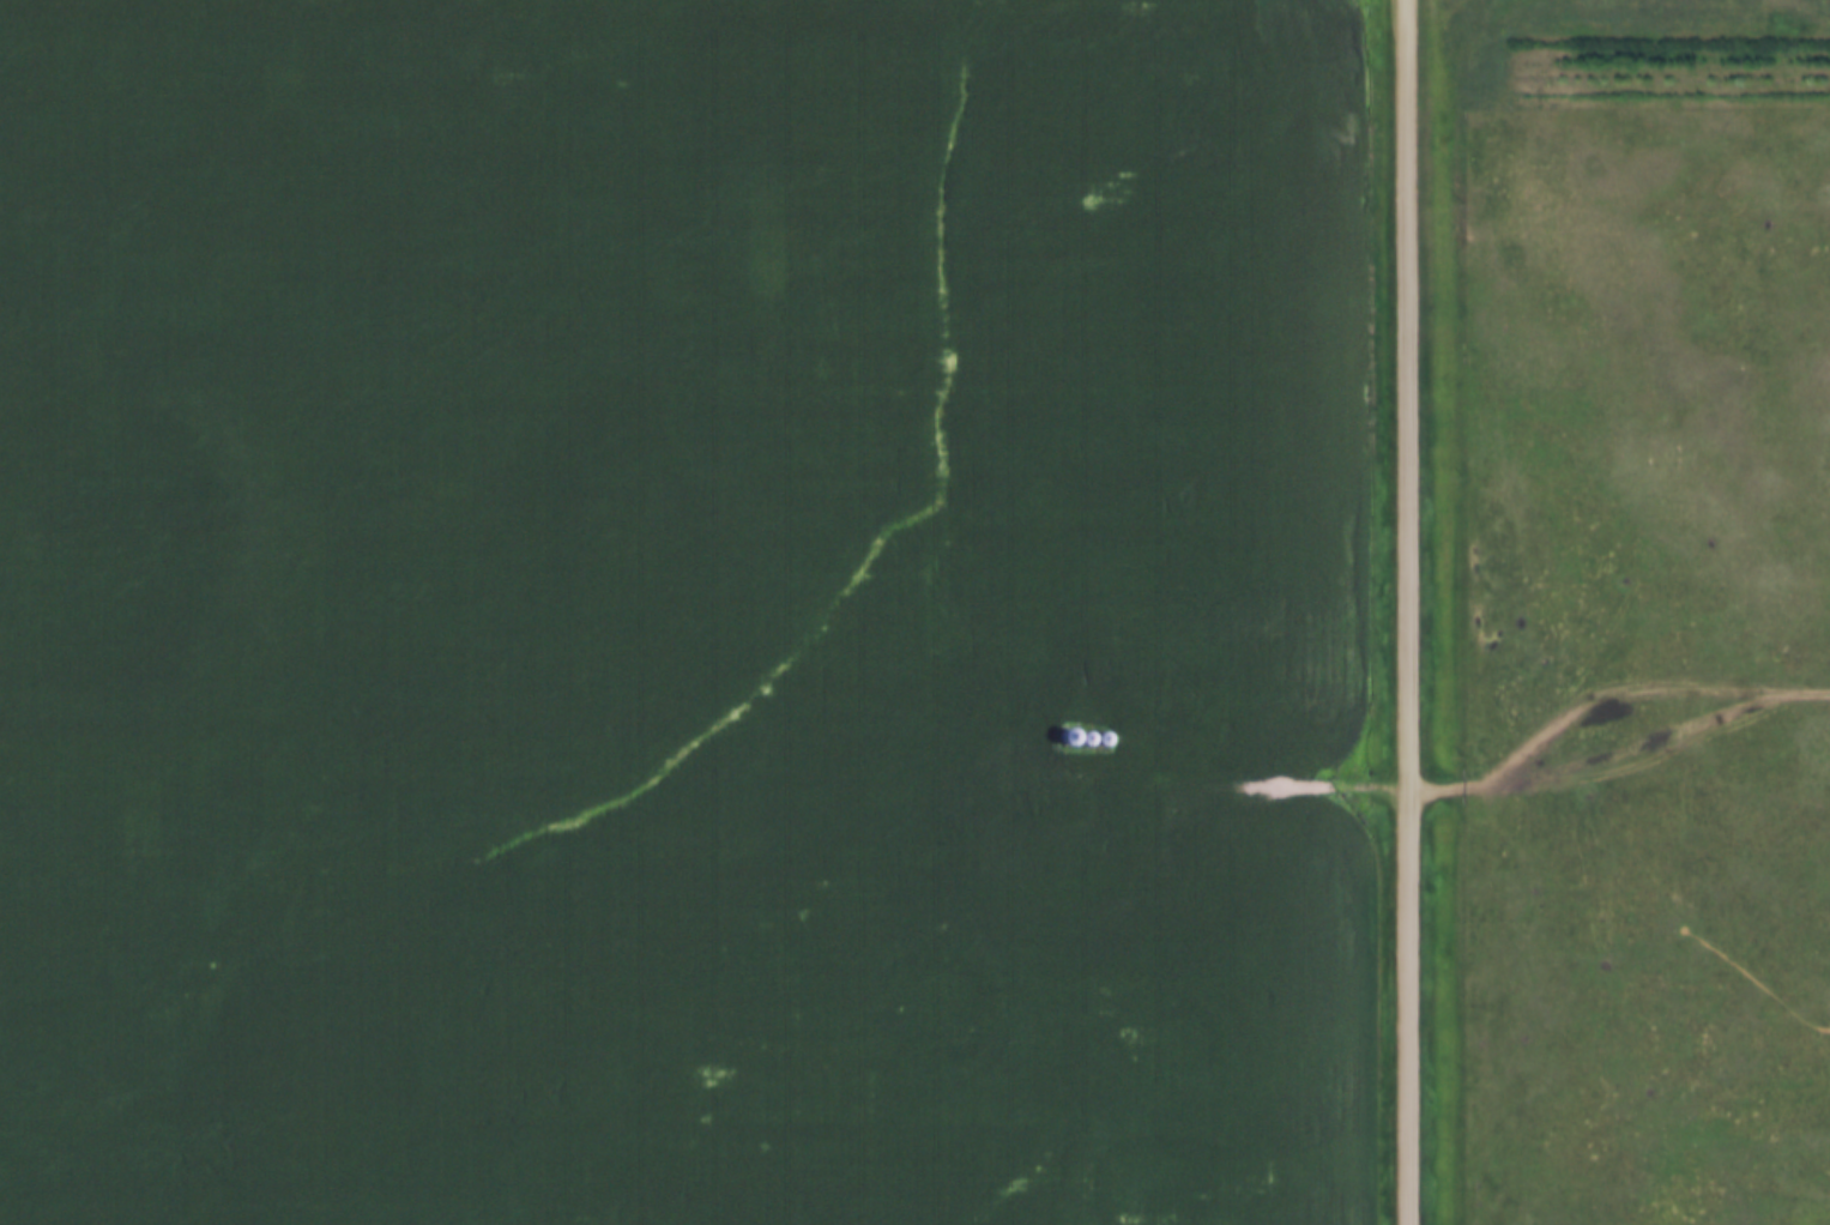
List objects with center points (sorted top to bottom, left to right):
road: (1413, 611)
road: (1608, 698)

